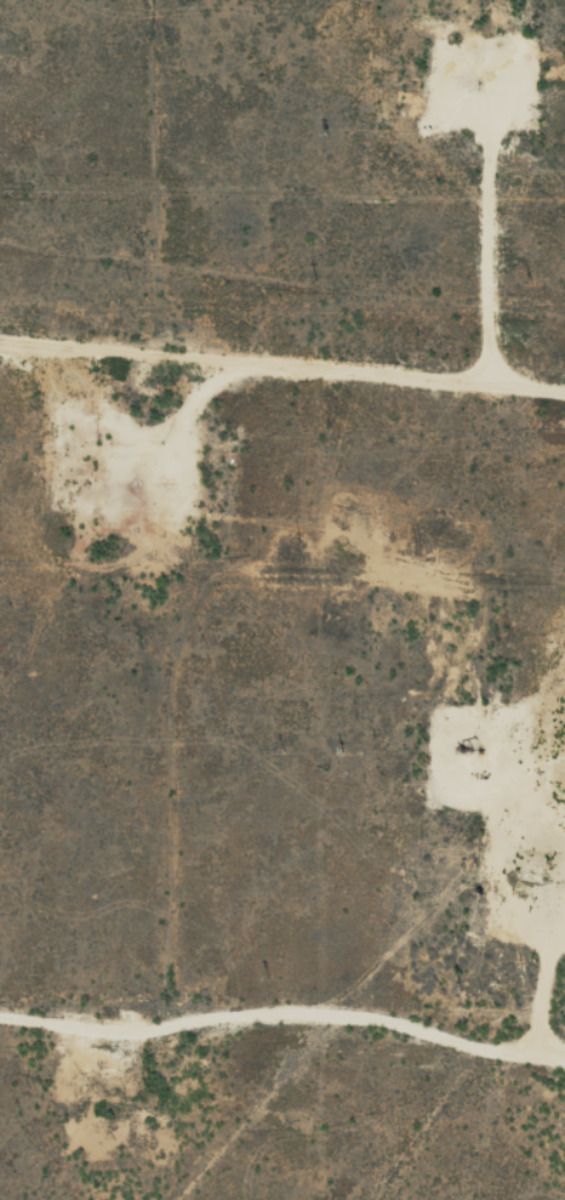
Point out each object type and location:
road: (195, 487)
road: (285, 983)

